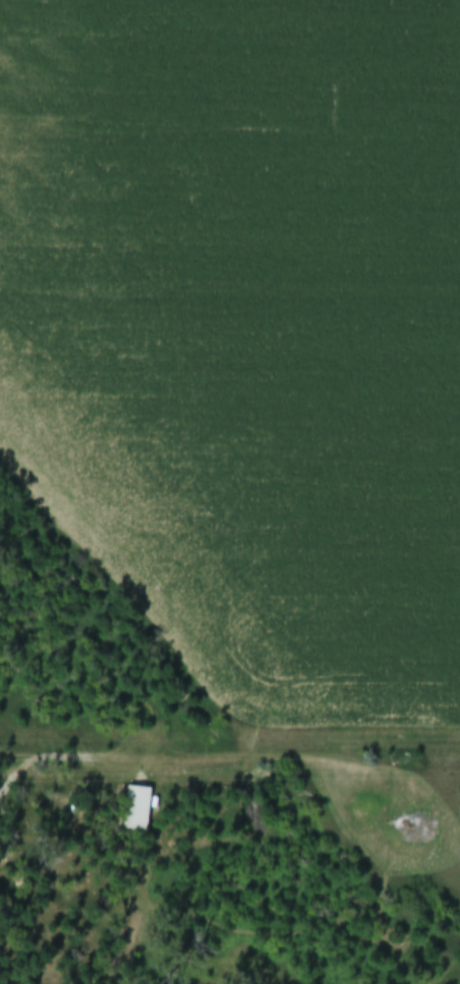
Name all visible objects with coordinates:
building: (134, 810)

